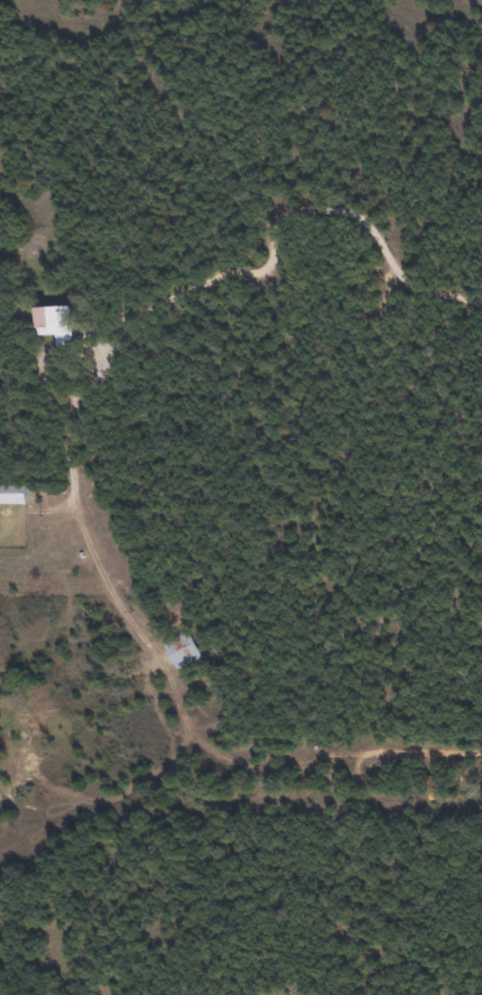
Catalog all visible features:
road: (279, 225)
building: (59, 324)
building: (13, 495)
building: (183, 649)
road: (192, 727)

